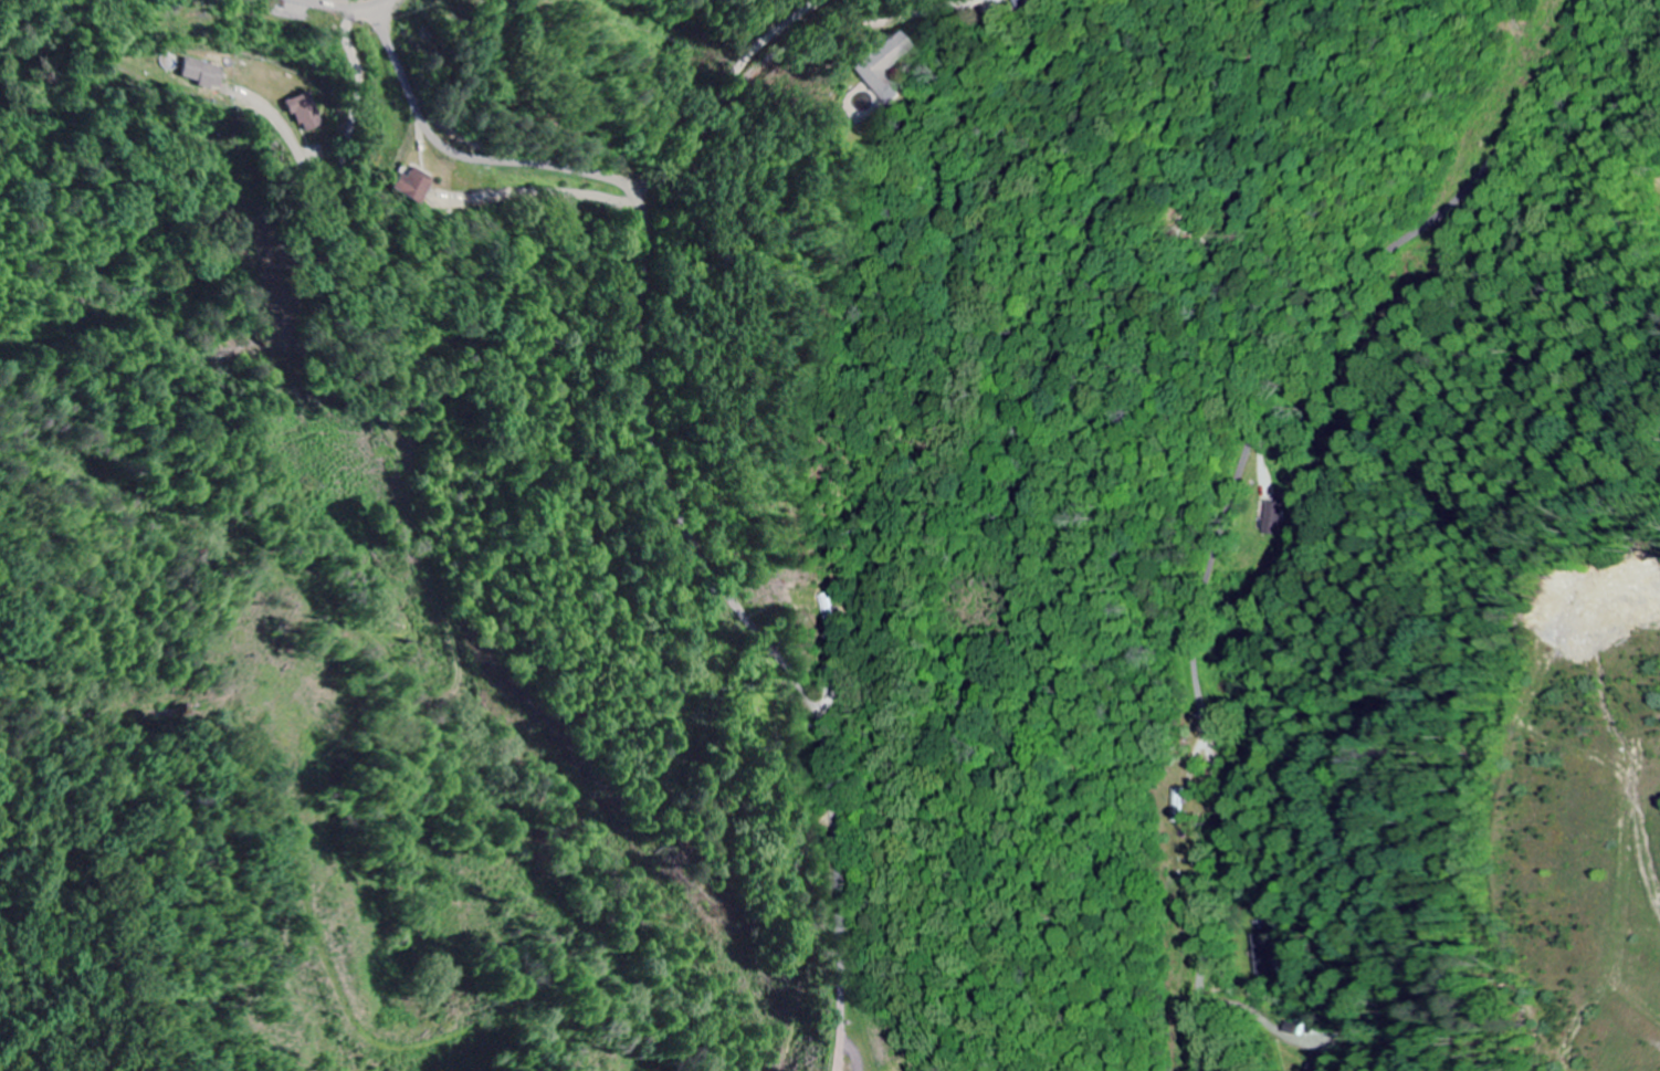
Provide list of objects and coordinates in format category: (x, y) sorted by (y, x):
road: (345, 0)
building: (1040, 2)
road: (872, 24)
building: (886, 70)
building: (206, 74)
building: (309, 114)
road: (706, 123)
building: (414, 187)
road: (664, 471)
road: (1149, 489)
building: (1279, 518)
road: (435, 570)
building: (1265, 947)

